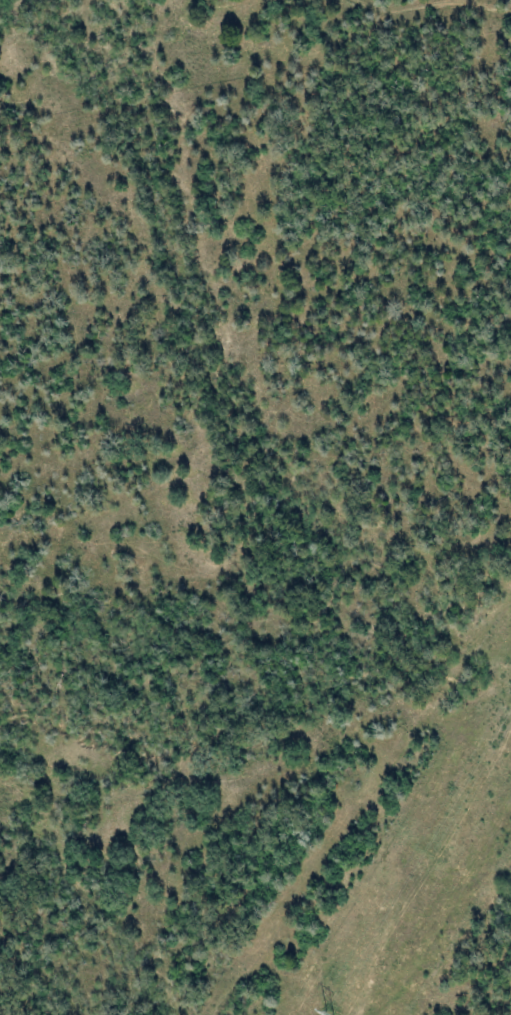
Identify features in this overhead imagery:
power tower: (510, 667)

